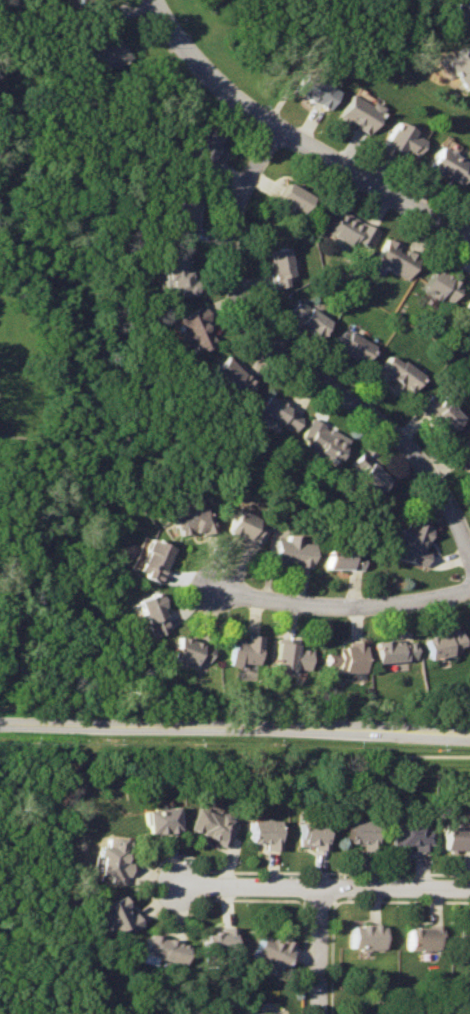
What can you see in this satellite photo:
building: (72, 0)
building: (79, 1)
building: (461, 17)
building: (104, 42)
building: (461, 66)
building: (314, 90)
building: (360, 114)
road: (295, 137)
building: (403, 140)
building: (205, 148)
building: (450, 165)
building: (295, 198)
building: (183, 218)
building: (353, 230)
building: (396, 259)
building: (281, 265)
building: (180, 276)
building: (442, 285)
building: (468, 306)
building: (311, 318)
building: (194, 330)
building: (355, 347)
road: (291, 366)
building: (401, 372)
building: (230, 377)
building: (278, 413)
building: (441, 413)
building: (322, 441)
building: (464, 450)
building: (366, 473)
building: (189, 522)
building: (245, 526)
building: (412, 543)
building: (290, 551)
building: (342, 558)
building: (152, 559)
road: (344, 605)
building: (152, 615)
building: (444, 644)
building: (245, 648)
building: (191, 650)
building: (394, 652)
building: (294, 656)
building: (349, 658)
road: (234, 731)
building: (158, 820)
building: (212, 825)
building: (263, 834)
building: (411, 834)
building: (313, 835)
building: (361, 835)
building: (455, 837)
building: (111, 859)
park: (23, 874)
road: (322, 886)
building: (119, 916)
building: (368, 936)
building: (424, 939)
building: (465, 939)
building: (219, 944)
building: (166, 950)
road: (320, 950)
building: (274, 951)

